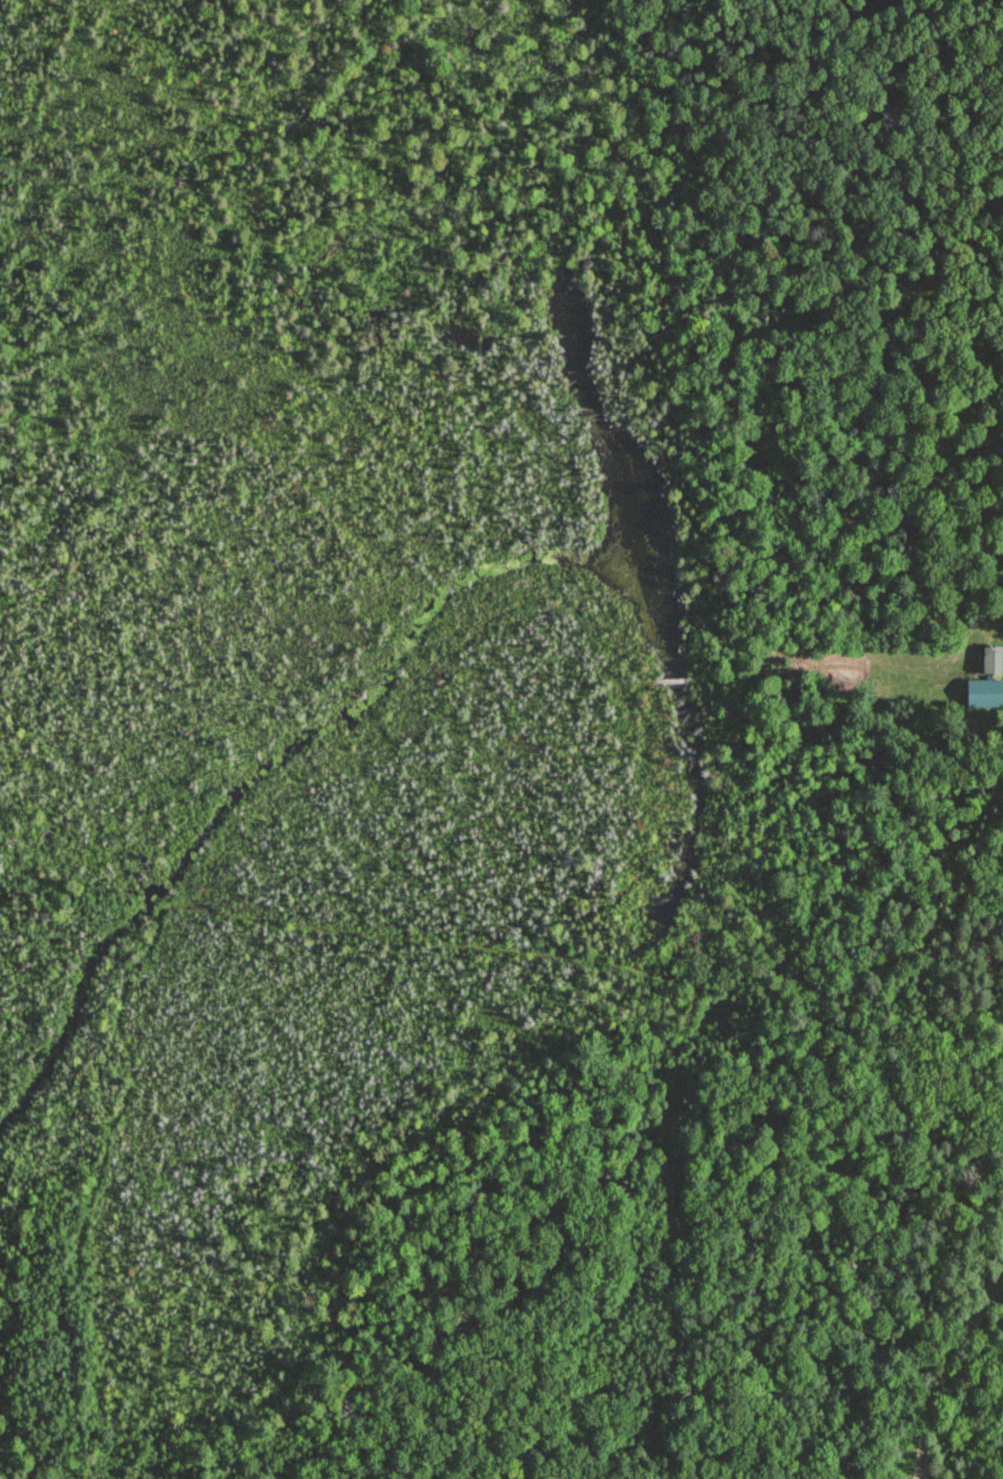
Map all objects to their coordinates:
building: (992, 659)
road: (727, 676)
road: (671, 682)
road: (624, 687)
building: (1000, 706)
building: (1002, 725)
building: (1002, 728)
road: (67, 890)
road: (679, 974)
road: (857, 1003)
road: (952, 1371)

